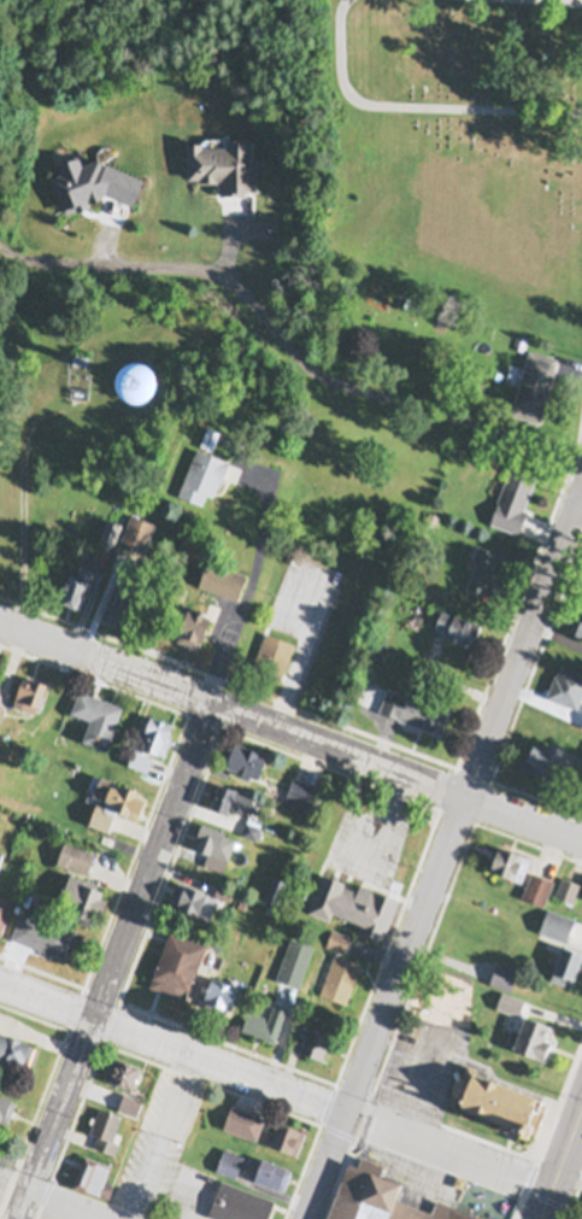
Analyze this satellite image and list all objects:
road: (558, 1)
road: (415, 104)
park: (459, 145)
building: (223, 169)
road: (116, 257)
building: (413, 300)
building: (80, 354)
building: (534, 381)
water tower: (141, 383)
building: (187, 389)
road: (359, 389)
building: (210, 433)
building: (202, 470)
road: (580, 477)
road: (580, 488)
building: (513, 493)
building: (123, 494)
building: (433, 515)
building: (111, 527)
building: (137, 527)
building: (486, 569)
building: (223, 573)
building: (77, 582)
road: (245, 587)
building: (120, 593)
building: (577, 617)
building: (194, 619)
building: (458, 625)
building: (581, 637)
road: (522, 641)
road: (298, 649)
building: (272, 651)
building: (377, 652)
building: (566, 682)
building: (29, 691)
road: (233, 704)
building: (415, 705)
building: (1, 710)
building: (96, 714)
building: (581, 720)
building: (149, 737)
building: (245, 751)
building: (551, 755)
building: (301, 787)
building: (233, 792)
building: (113, 798)
road: (524, 816)
building: (252, 822)
building: (214, 839)
building: (0, 850)
building: (75, 855)
road: (154, 858)
building: (510, 858)
building: (276, 881)
building: (537, 885)
building: (568, 887)
building: (224, 889)
building: (281, 889)
building: (82, 893)
building: (581, 893)
building: (193, 895)
building: (35, 896)
building: (354, 899)
building: (5, 904)
building: (557, 922)
building: (42, 932)
building: (477, 934)
building: (337, 938)
building: (177, 960)
building: (566, 960)
building: (504, 973)
building: (340, 975)
building: (221, 989)
building: (510, 1001)
road: (384, 1006)
building: (265, 1019)
building: (530, 1035)
building: (316, 1039)
building: (16, 1044)
building: (122, 1068)
road: (275, 1086)
building: (496, 1097)
building: (130, 1102)
building: (6, 1104)
road: (54, 1118)
building: (243, 1120)
building: (105, 1129)
road: (152, 1136)
building: (284, 1136)
building: (230, 1161)
road: (560, 1165)
building: (271, 1170)
building: (94, 1176)
building: (384, 1196)
building: (240, 1202)
road: (65, 1206)

